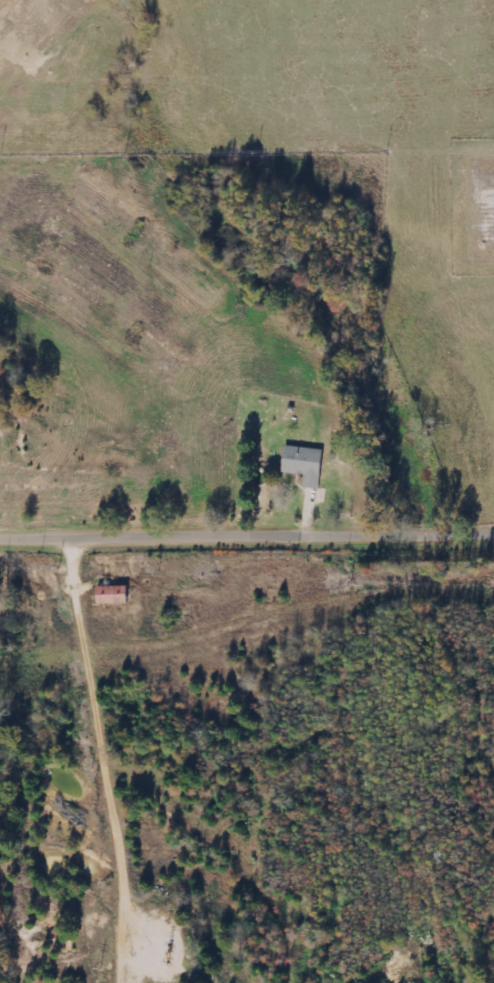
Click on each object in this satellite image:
building: (306, 464)
road: (247, 538)
building: (114, 595)

